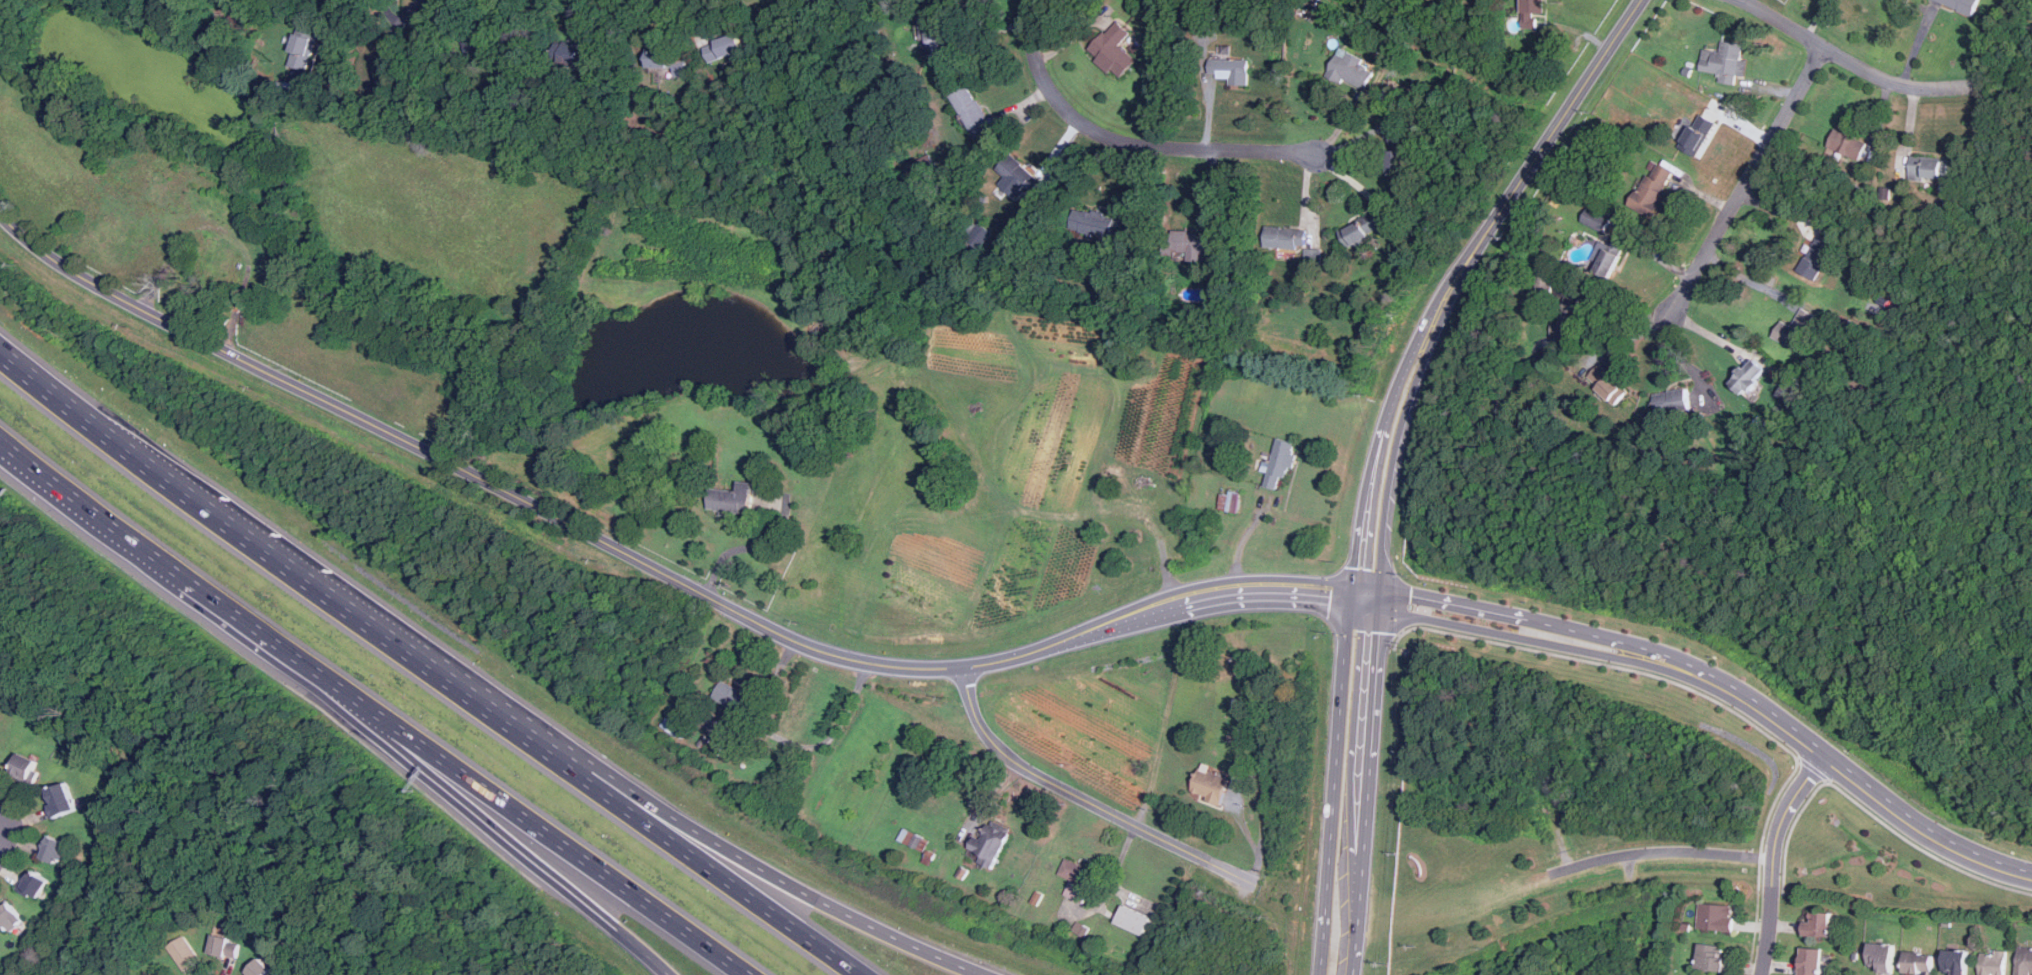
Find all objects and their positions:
building: (332, 0)
building: (1153, 3)
building: (1966, 4)
building: (1534, 11)
building: (936, 33)
road: (984, 36)
building: (305, 46)
building: (484, 47)
building: (1115, 47)
building: (725, 48)
road: (390, 49)
building: (574, 55)
building: (662, 61)
building: (1727, 62)
building: (1351, 68)
road: (1862, 68)
building: (1231, 74)
building: (467, 91)
building: (973, 115)
building: (1700, 133)
road: (1128, 143)
building: (1849, 145)
road: (1538, 156)
building: (1400, 163)
building: (923, 165)
building: (1924, 170)
building: (1017, 175)
road: (1749, 180)
building: (1661, 184)
building: (1597, 219)
building: (1098, 225)
building: (1362, 230)
building: (1287, 237)
building: (1193, 243)
building: (1613, 258)
building: (1814, 259)
road: (1750, 279)
building: (1573, 320)
building: (1796, 327)
road: (1629, 337)
building: (1753, 375)
building: (1619, 391)
building: (1790, 394)
building: (1668, 399)
building: (1280, 462)
road: (464, 469)
building: (731, 499)
building: (1229, 501)
road: (131, 543)
road: (1243, 546)
traffic signals: (1387, 590)
traffic signals: (1353, 595)
traffic signals: (1386, 608)
road: (1148, 610)
road: (1527, 617)
road: (1395, 633)
road: (1522, 634)
road: (1349, 638)
road: (1384, 643)
road: (1605, 662)
road: (427, 666)
building: (734, 697)
building: (675, 724)
building: (27, 767)
road: (1816, 767)
road: (1862, 776)
building: (1238, 783)
building: (1210, 785)
road: (1082, 797)
building: (64, 800)
road: (507, 805)
road: (467, 807)
road: (1873, 811)
road: (1250, 837)
road: (704, 838)
building: (915, 840)
road: (1, 842)
building: (990, 842)
building: (60, 850)
road: (1664, 856)
road: (1777, 857)
road: (1762, 861)
building: (1077, 880)
building: (36, 884)
traffic signals: (1327, 909)
building: (12, 916)
traffic signals: (1363, 917)
building: (1715, 917)
building: (1133, 920)
building: (1817, 924)
building: (1082, 929)
building: (228, 945)
building: (185, 952)
building: (1711, 957)
building: (1881, 957)
building: (1811, 961)
building: (1956, 961)
building: (2024, 961)
building: (1918, 963)
building: (1993, 963)
building: (264, 968)

